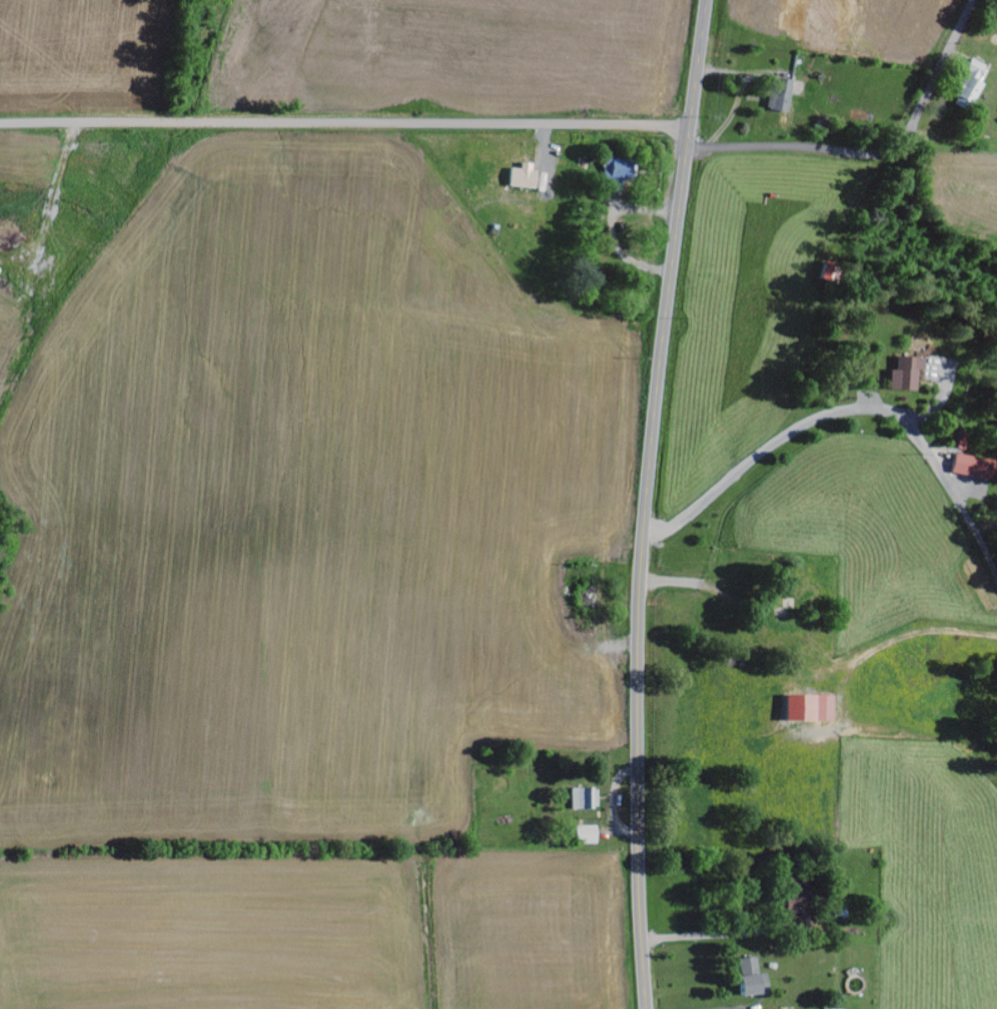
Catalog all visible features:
road: (942, 61)
building: (969, 87)
building: (783, 96)
road: (345, 124)
road: (806, 149)
building: (619, 170)
building: (525, 178)
building: (907, 373)
road: (849, 411)
building: (974, 467)
road: (646, 502)
building: (812, 709)
building: (586, 799)
building: (588, 835)
building: (801, 899)
building: (754, 979)

